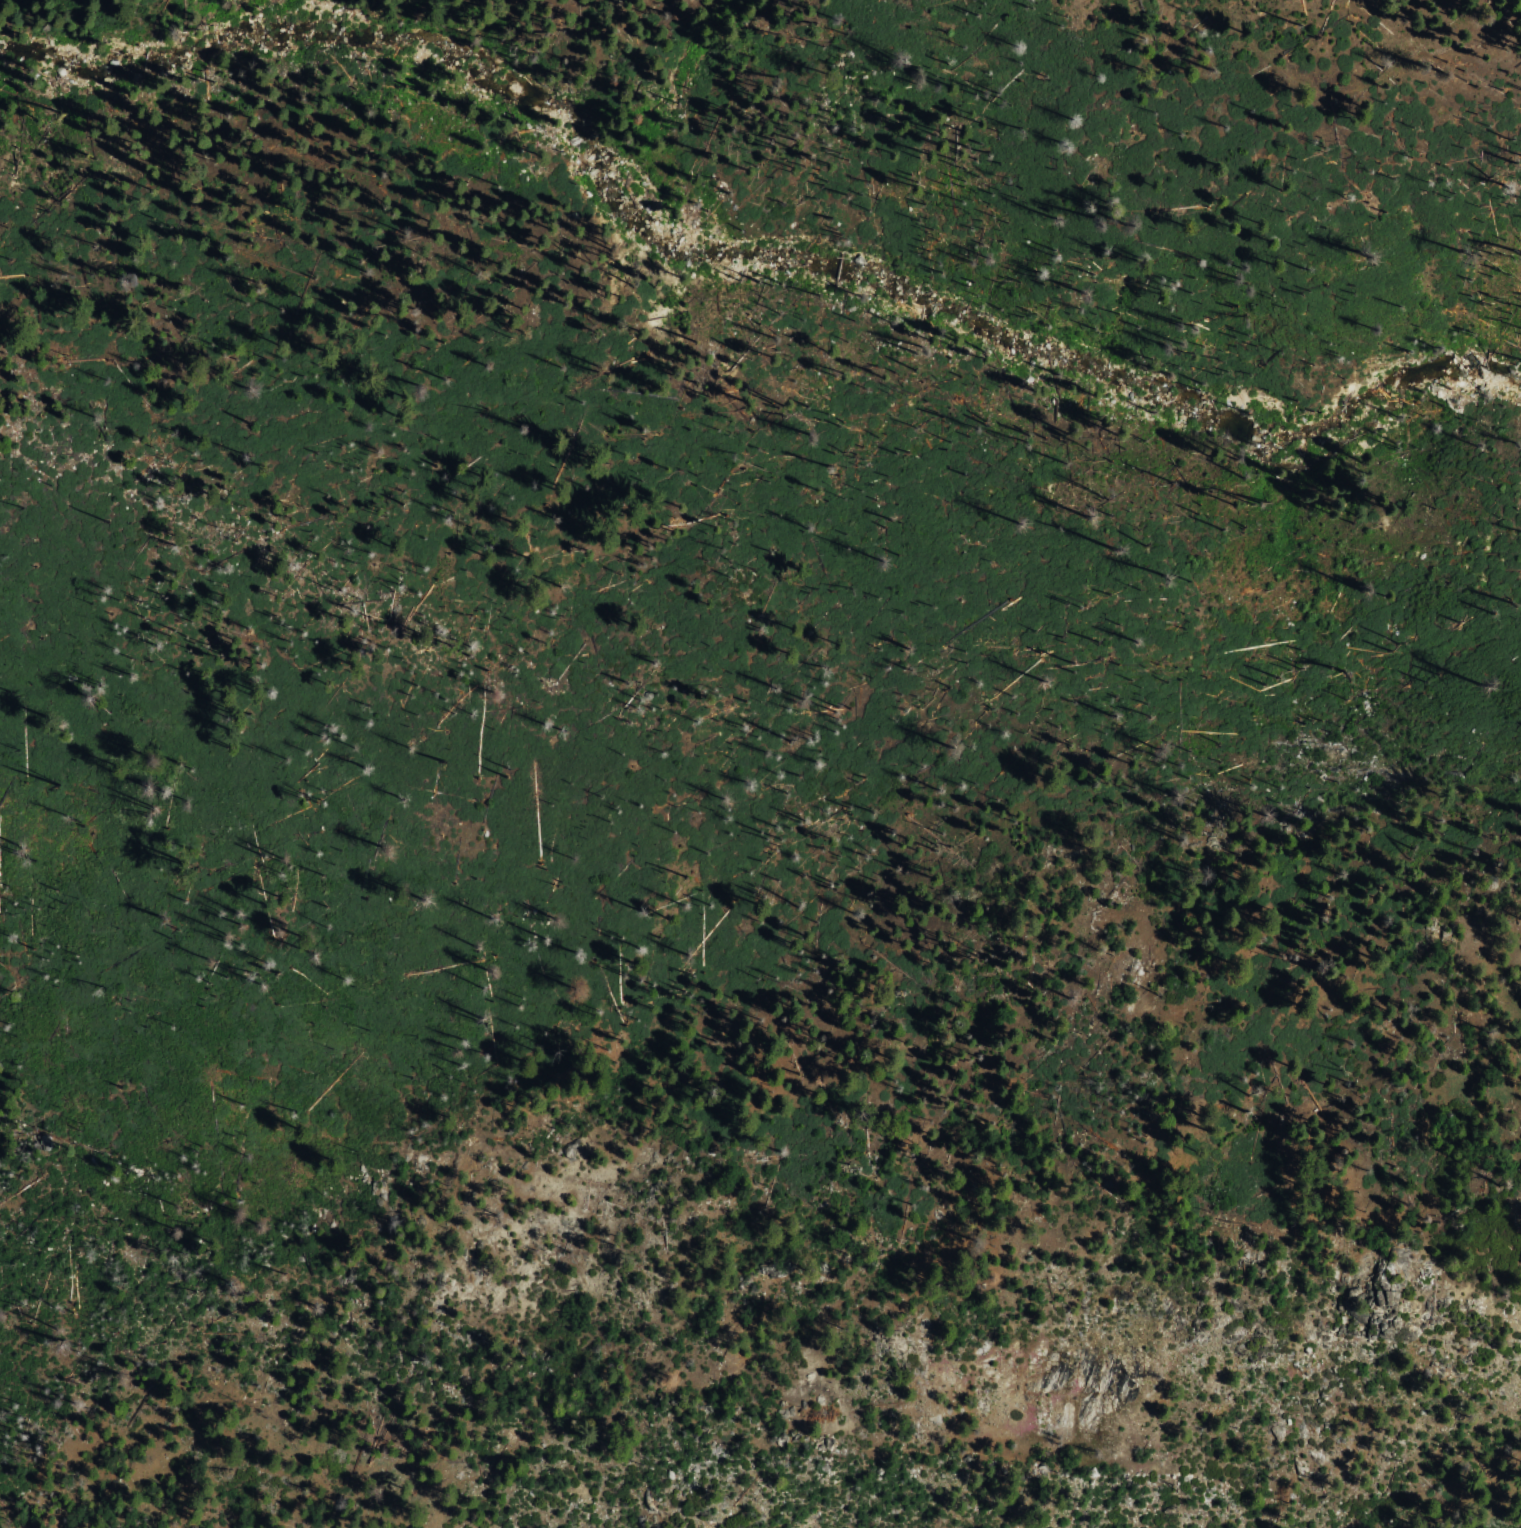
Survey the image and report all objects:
road: (1355, 87)

